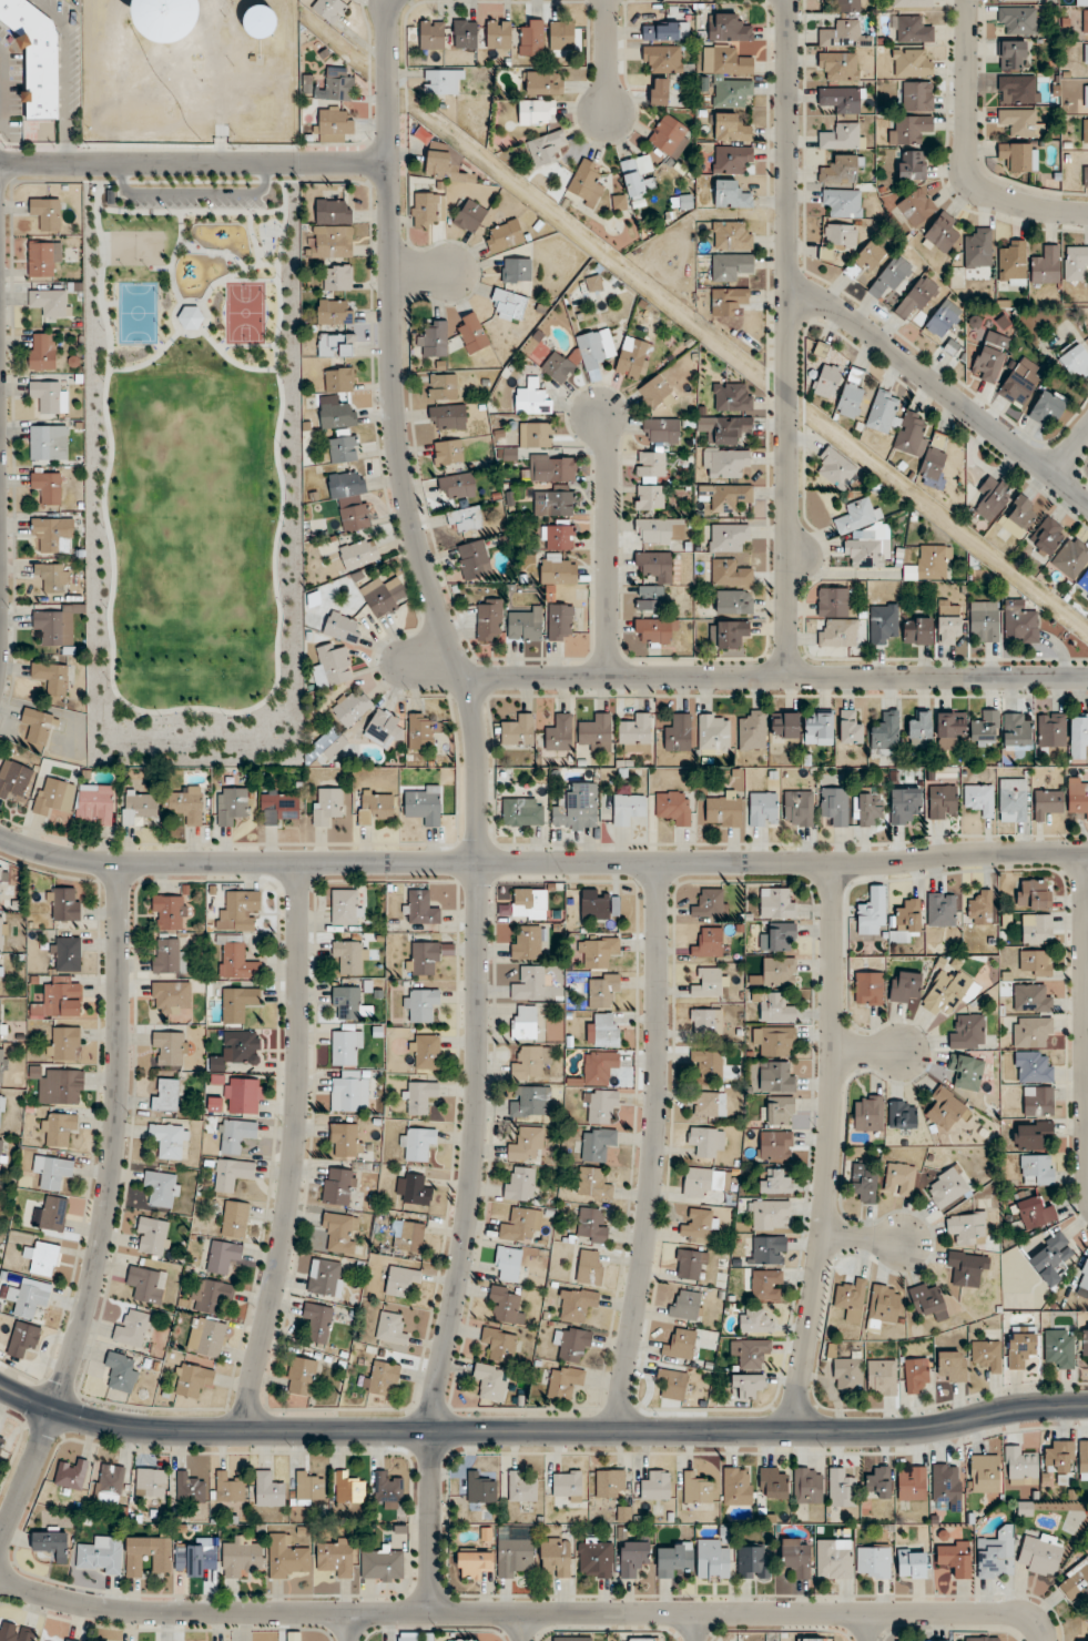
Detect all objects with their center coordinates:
building: (912, 2)
building: (846, 6)
building: (331, 9)
building: (167, 19)
building: (1018, 19)
building: (260, 21)
building: (1085, 22)
building: (728, 27)
building: (911, 29)
building: (660, 30)
building: (466, 33)
building: (499, 33)
building: (434, 34)
building: (562, 34)
building: (844, 34)
building: (531, 37)
building: (1086, 52)
building: (1013, 54)
building: (35, 55)
road: (608, 55)
building: (662, 58)
building: (725, 60)
building: (912, 62)
building: (838, 64)
building: (438, 81)
building: (543, 82)
building: (338, 83)
building: (1019, 87)
building: (659, 91)
building: (732, 91)
building: (917, 94)
building: (1086, 94)
building: (841, 99)
building: (537, 111)
building: (1021, 121)
building: (333, 123)
building: (731, 128)
building: (909, 129)
building: (1085, 132)
building: (670, 135)
building: (843, 135)
building: (547, 146)
road: (967, 153)
building: (1019, 154)
building: (732, 159)
road: (194, 163)
building: (912, 164)
building: (447, 166)
building: (838, 170)
building: (635, 178)
road: (199, 182)
building: (586, 183)
road: (192, 191)
building: (731, 194)
parking lot: (194, 201)
road: (251, 202)
building: (843, 202)
building: (916, 206)
building: (428, 207)
building: (45, 212)
road: (190, 212)
building: (470, 216)
building: (332, 229)
building: (943, 232)
building: (732, 234)
building: (840, 234)
building: (505, 235)
road: (253, 237)
park: (136, 247)
building: (978, 247)
road: (213, 252)
road: (225, 252)
road: (211, 253)
road: (173, 256)
building: (43, 257)
building: (1076, 262)
building: (1013, 263)
building: (1046, 264)
building: (731, 266)
road: (160, 267)
building: (517, 269)
road: (419, 271)
road: (234, 273)
building: (891, 275)
building: (337, 276)
road: (248, 281)
building: (915, 297)
building: (728, 301)
building: (51, 302)
building: (509, 302)
building: (335, 311)
park: (245, 313)
park: (140, 314)
building: (943, 318)
building: (472, 333)
road: (196, 336)
building: (433, 338)
road: (787, 338)
road: (246, 345)
building: (336, 345)
building: (596, 346)
building: (42, 351)
building: (633, 356)
building: (1075, 359)
road: (148, 362)
building: (987, 362)
road: (234, 363)
building: (558, 366)
road: (924, 375)
building: (338, 378)
building: (827, 379)
building: (1020, 382)
building: (441, 385)
building: (655, 392)
building: (48, 396)
building: (732, 396)
building: (851, 397)
building: (532, 398)
building: (1046, 407)
building: (883, 411)
building: (336, 412)
building: (448, 416)
building: (724, 428)
building: (661, 429)
building: (912, 432)
building: (536, 434)
building: (43, 440)
building: (343, 447)
building: (448, 452)
road: (1068, 452)
building: (933, 460)
building: (729, 462)
building: (650, 466)
building: (552, 467)
park: (193, 468)
building: (835, 468)
building: (346, 484)
building: (458, 485)
building: (47, 486)
road: (1068, 490)
building: (650, 496)
building: (726, 496)
building: (993, 496)
building: (553, 503)
building: (1020, 510)
building: (857, 515)
building: (355, 517)
building: (465, 519)
building: (660, 529)
building: (53, 534)
building: (558, 536)
building: (728, 536)
building: (1047, 536)
road: (608, 546)
building: (866, 551)
building: (359, 553)
building: (1071, 557)
building: (474, 559)
building: (931, 563)
building: (557, 570)
building: (730, 573)
building: (53, 576)
building: (664, 578)
building: (1084, 581)
building: (384, 595)
building: (733, 601)
building: (832, 601)
building: (489, 619)
building: (984, 620)
building: (560, 621)
building: (883, 621)
building: (1020, 621)
building: (525, 622)
building: (57, 624)
building: (947, 624)
building: (343, 627)
building: (654, 630)
building: (917, 630)
building: (837, 631)
building: (731, 634)
road: (430, 660)
building: (334, 664)
building: (51, 677)
road: (776, 678)
building: (350, 707)
road: (192, 708)
building: (39, 725)
building: (784, 725)
building: (817, 728)
building: (850, 728)
building: (985, 728)
building: (383, 729)
building: (519, 729)
building: (752, 729)
building: (949, 729)
building: (1051, 729)
building: (421, 730)
building: (1016, 730)
building: (597, 731)
building: (713, 731)
building: (921, 731)
building: (559, 732)
building: (634, 732)
building: (679, 732)
building: (885, 733)
building: (1079, 736)
building: (14, 779)
building: (53, 796)
building: (980, 798)
building: (1078, 798)
building: (1013, 799)
building: (943, 801)
road: (479, 802)
building: (1047, 802)
building: (185, 803)
building: (904, 803)
building: (94, 804)
building: (231, 804)
building: (326, 804)
building: (424, 804)
building: (835, 804)
building: (139, 806)
building: (374, 806)
building: (279, 807)
building: (577, 807)
building: (674, 807)
building: (628, 808)
building: (724, 808)
building: (763, 808)
building: (797, 808)
building: (870, 809)
building: (522, 811)
road: (59, 854)
road: (604, 862)
building: (3, 882)
building: (1034, 894)
building: (776, 902)
building: (63, 903)
building: (529, 903)
building: (594, 903)
building: (711, 903)
building: (346, 906)
building: (421, 908)
building: (982, 908)
building: (942, 909)
building: (240, 910)
building: (871, 911)
building: (169, 912)
building: (906, 919)
building: (1037, 929)
building: (2, 932)
building: (779, 936)
building: (527, 942)
building: (708, 943)
building: (597, 951)
building: (67, 953)
building: (169, 954)
building: (350, 955)
building: (423, 958)
building: (236, 961)
building: (1035, 962)
building: (779, 971)
building: (710, 982)
building: (529, 983)
building: (868, 987)
building: (602, 989)
building: (949, 992)
building: (1033, 996)
building: (59, 999)
building: (172, 999)
building: (348, 1002)
building: (237, 1003)
building: (420, 1003)
building: (775, 1007)
road: (1086, 1020)
building: (2, 1021)
building: (523, 1021)
building: (706, 1021)
building: (606, 1029)
building: (1031, 1031)
building: (968, 1032)
building: (775, 1040)
building: (64, 1042)
building: (347, 1046)
building: (170, 1047)
building: (237, 1049)
building: (426, 1051)
road: (868, 1052)
building: (530, 1063)
building: (709, 1063)
building: (2, 1064)
building: (599, 1066)
building: (1033, 1066)
building: (967, 1071)
building: (776, 1076)
building: (62, 1085)
building: (349, 1091)
building: (165, 1094)
building: (243, 1095)
building: (419, 1096)
building: (530, 1100)
building: (1038, 1101)
building: (709, 1104)
building: (601, 1106)
building: (946, 1108)
building: (1, 1110)
building: (780, 1110)
building: (868, 1112)
building: (903, 1114)
building: (58, 1127)
building: (1031, 1134)
building: (235, 1135)
building: (346, 1138)
building: (171, 1139)
building: (703, 1141)
building: (416, 1143)
building: (597, 1143)
building: (527, 1144)
building: (775, 1146)
road: (655, 1147)
road: (831, 1147)
road: (295, 1148)
building: (2, 1155)
building: (1037, 1169)
building: (52, 1171)
building: (232, 1174)
building: (899, 1178)
building: (704, 1181)
building: (774, 1181)
building: (864, 1181)
building: (519, 1183)
building: (593, 1183)
building: (338, 1185)
building: (948, 1186)
building: (163, 1187)
building: (413, 1188)
building: (1036, 1212)
building: (52, 1213)
road: (106, 1213)
building: (771, 1214)
building: (234, 1218)
building: (521, 1224)
building: (591, 1225)
building: (698, 1226)
building: (967, 1227)
building: (339, 1232)
building: (407, 1235)
building: (153, 1236)
road: (864, 1238)
building: (767, 1249)
building: (223, 1256)
building: (1051, 1257)
building: (44, 1258)
building: (508, 1263)
building: (691, 1264)
building: (590, 1266)
building: (966, 1267)
building: (325, 1277)
building: (400, 1279)
building: (1084, 1279)
building: (146, 1284)
building: (766, 1284)
building: (211, 1295)
building: (27, 1298)
building: (852, 1299)
building: (506, 1303)
building: (576, 1304)
building: (684, 1304)
building: (883, 1306)
building: (754, 1319)
building: (318, 1321)
building: (390, 1328)
building: (133, 1329)
building: (206, 1336)
building: (23, 1340)
building: (1085, 1340)
building: (500, 1344)
building: (681, 1344)
building: (572, 1345)
building: (1020, 1347)
building: (1059, 1347)
building: (750, 1351)
building: (987, 1354)
building: (952, 1366)
building: (121, 1370)
building: (847, 1374)
building: (915, 1374)
building: (301, 1376)
building: (384, 1376)
building: (882, 1376)
building: (192, 1379)
building: (491, 1380)
building: (566, 1380)
building: (673, 1382)
building: (748, 1382)
road: (541, 1431)
building: (2, 1440)
building: (1059, 1457)
building: (1082, 1457)
building: (1020, 1466)
building: (985, 1472)
building: (72, 1473)
building: (150, 1481)
building: (879, 1481)
building: (912, 1481)
building: (610, 1482)
building: (109, 1483)
building: (773, 1483)
building: (947, 1483)
building: (567, 1485)
building: (738, 1485)
building: (807, 1485)
building: (657, 1486)
building: (308, 1487)
building: (521, 1487)
building: (189, 1488)
building: (228, 1488)
building: (480, 1488)
building: (841, 1488)
building: (268, 1489)
building: (387, 1490)
building: (347, 1491)
building: (696, 1491)
building: (51, 1542)
building: (1040, 1553)
building: (100, 1554)
building: (148, 1554)
building: (996, 1554)
building: (335, 1556)
building: (514, 1556)
building: (556, 1556)
building: (796, 1556)
building: (241, 1557)
building: (287, 1557)
building: (596, 1557)
building: (633, 1557)
building: (955, 1557)
building: (195, 1558)
building: (673, 1558)
building: (833, 1558)
building: (712, 1559)
building: (873, 1561)
building: (383, 1562)
building: (753, 1562)
building: (911, 1562)
building: (474, 1563)
building: (1075, 1582)
road: (526, 1613)
road: (349, 1627)
road: (696, 1627)
road: (871, 1627)
road: (526, 1628)
building: (16, 1632)
building: (410, 1637)
building: (980, 1638)
building: (572, 1639)
building: (642, 1639)
building: (815, 1639)
building: (1082, 1639)
building: (64, 1640)
building: (462, 1640)
building: (927, 1640)

